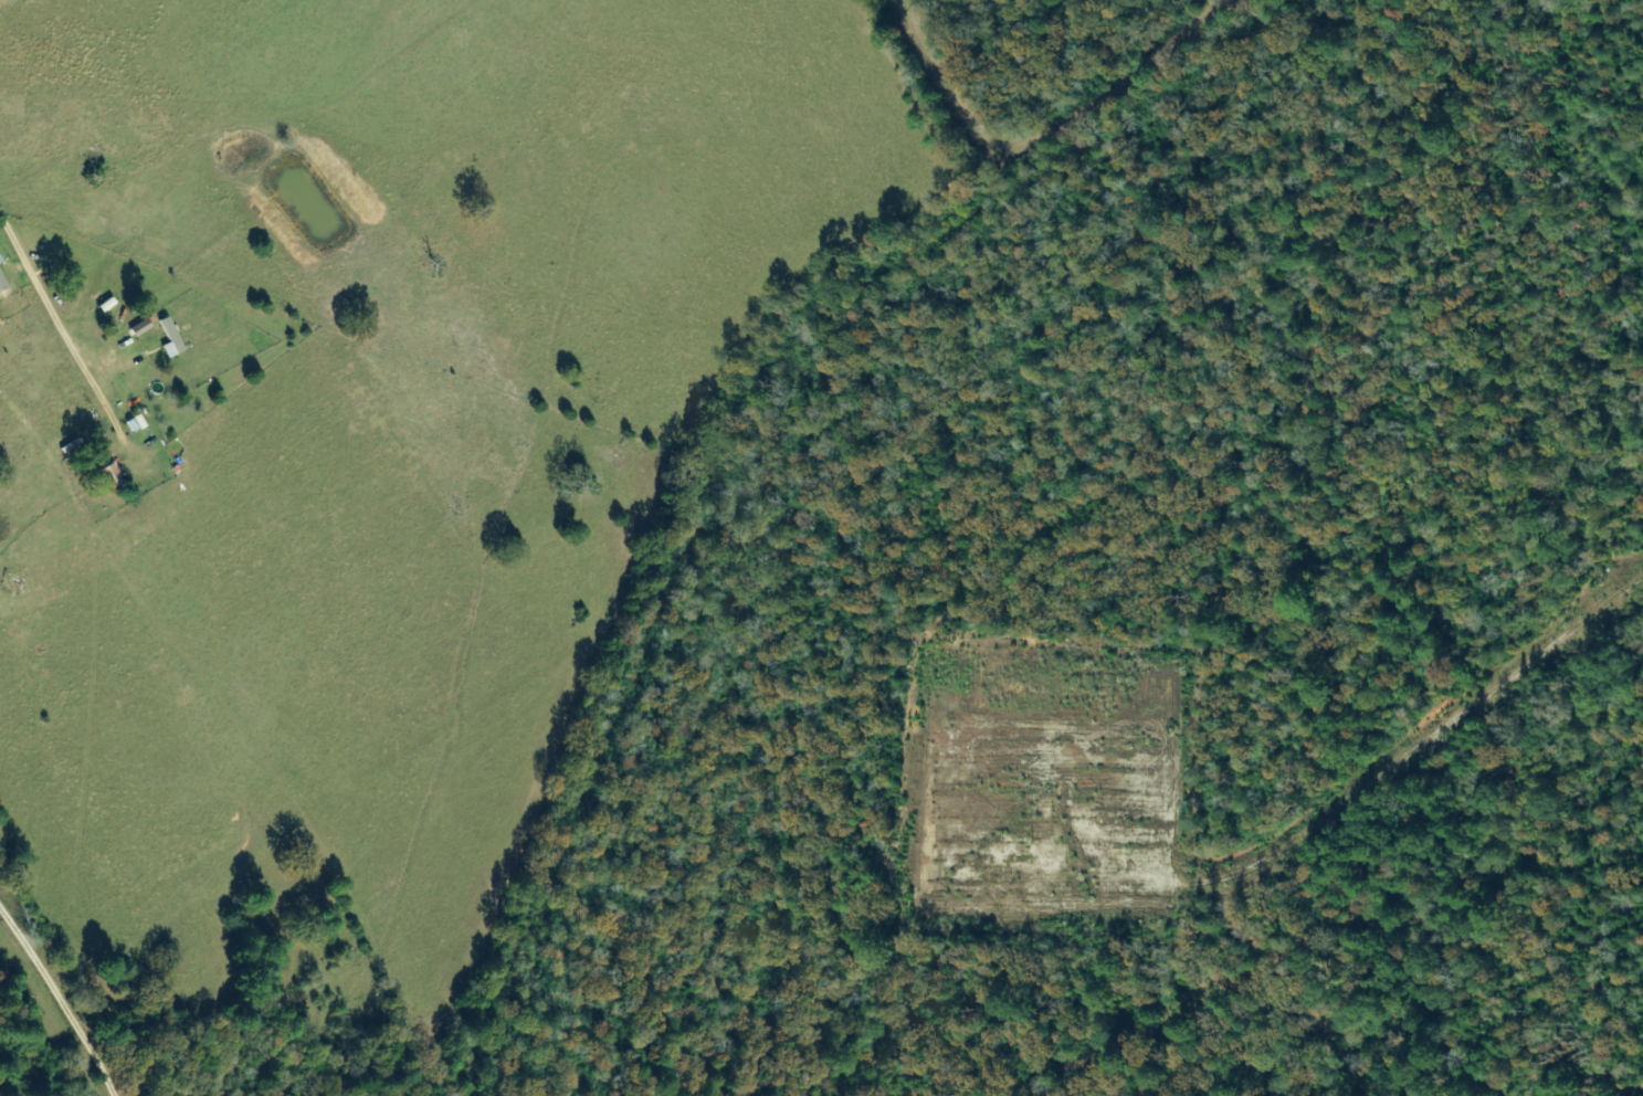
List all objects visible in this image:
building: (2, 283)
building: (138, 327)
building: (169, 339)
building: (108, 477)

